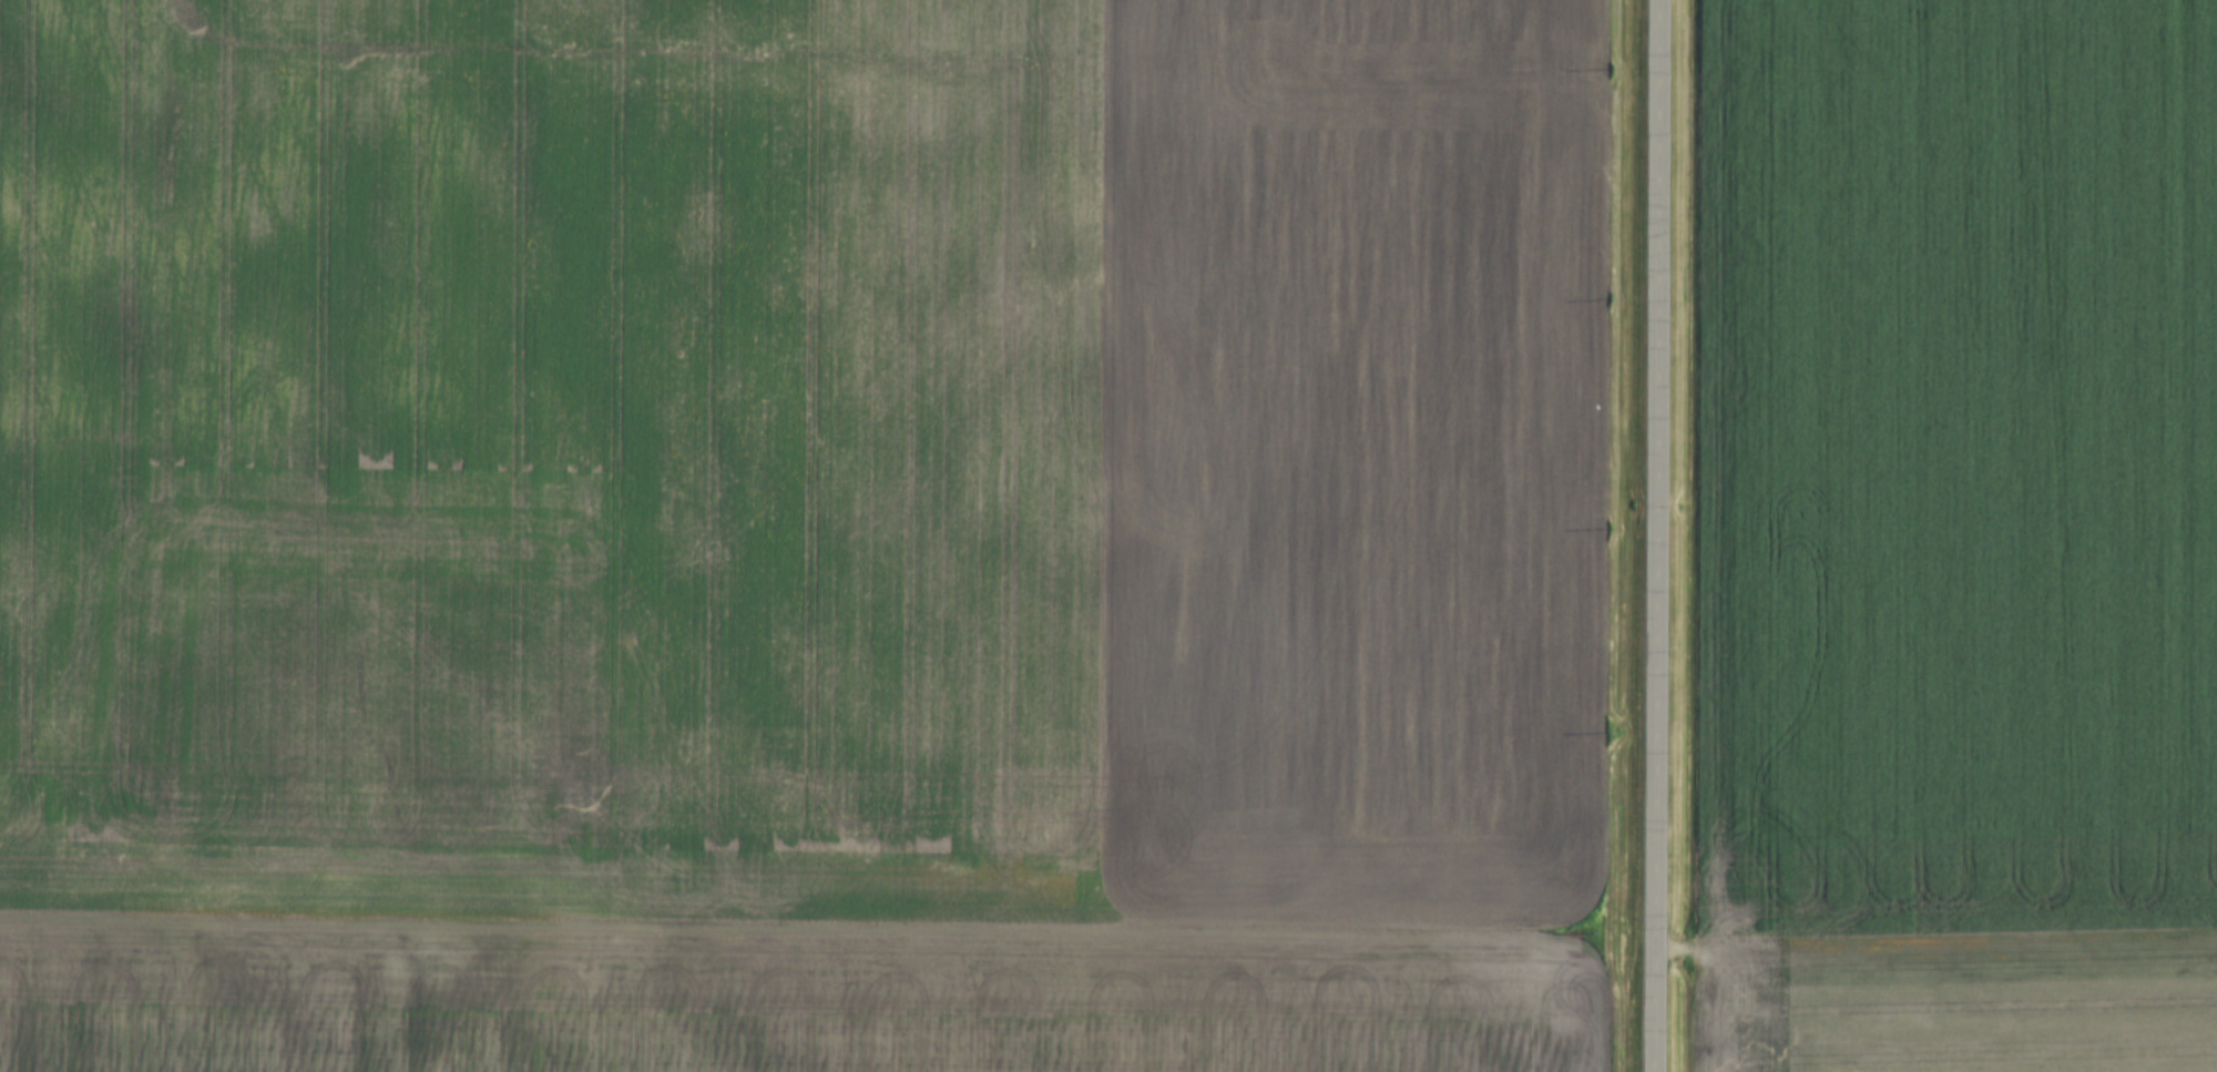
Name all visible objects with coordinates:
road: (1661, 535)

